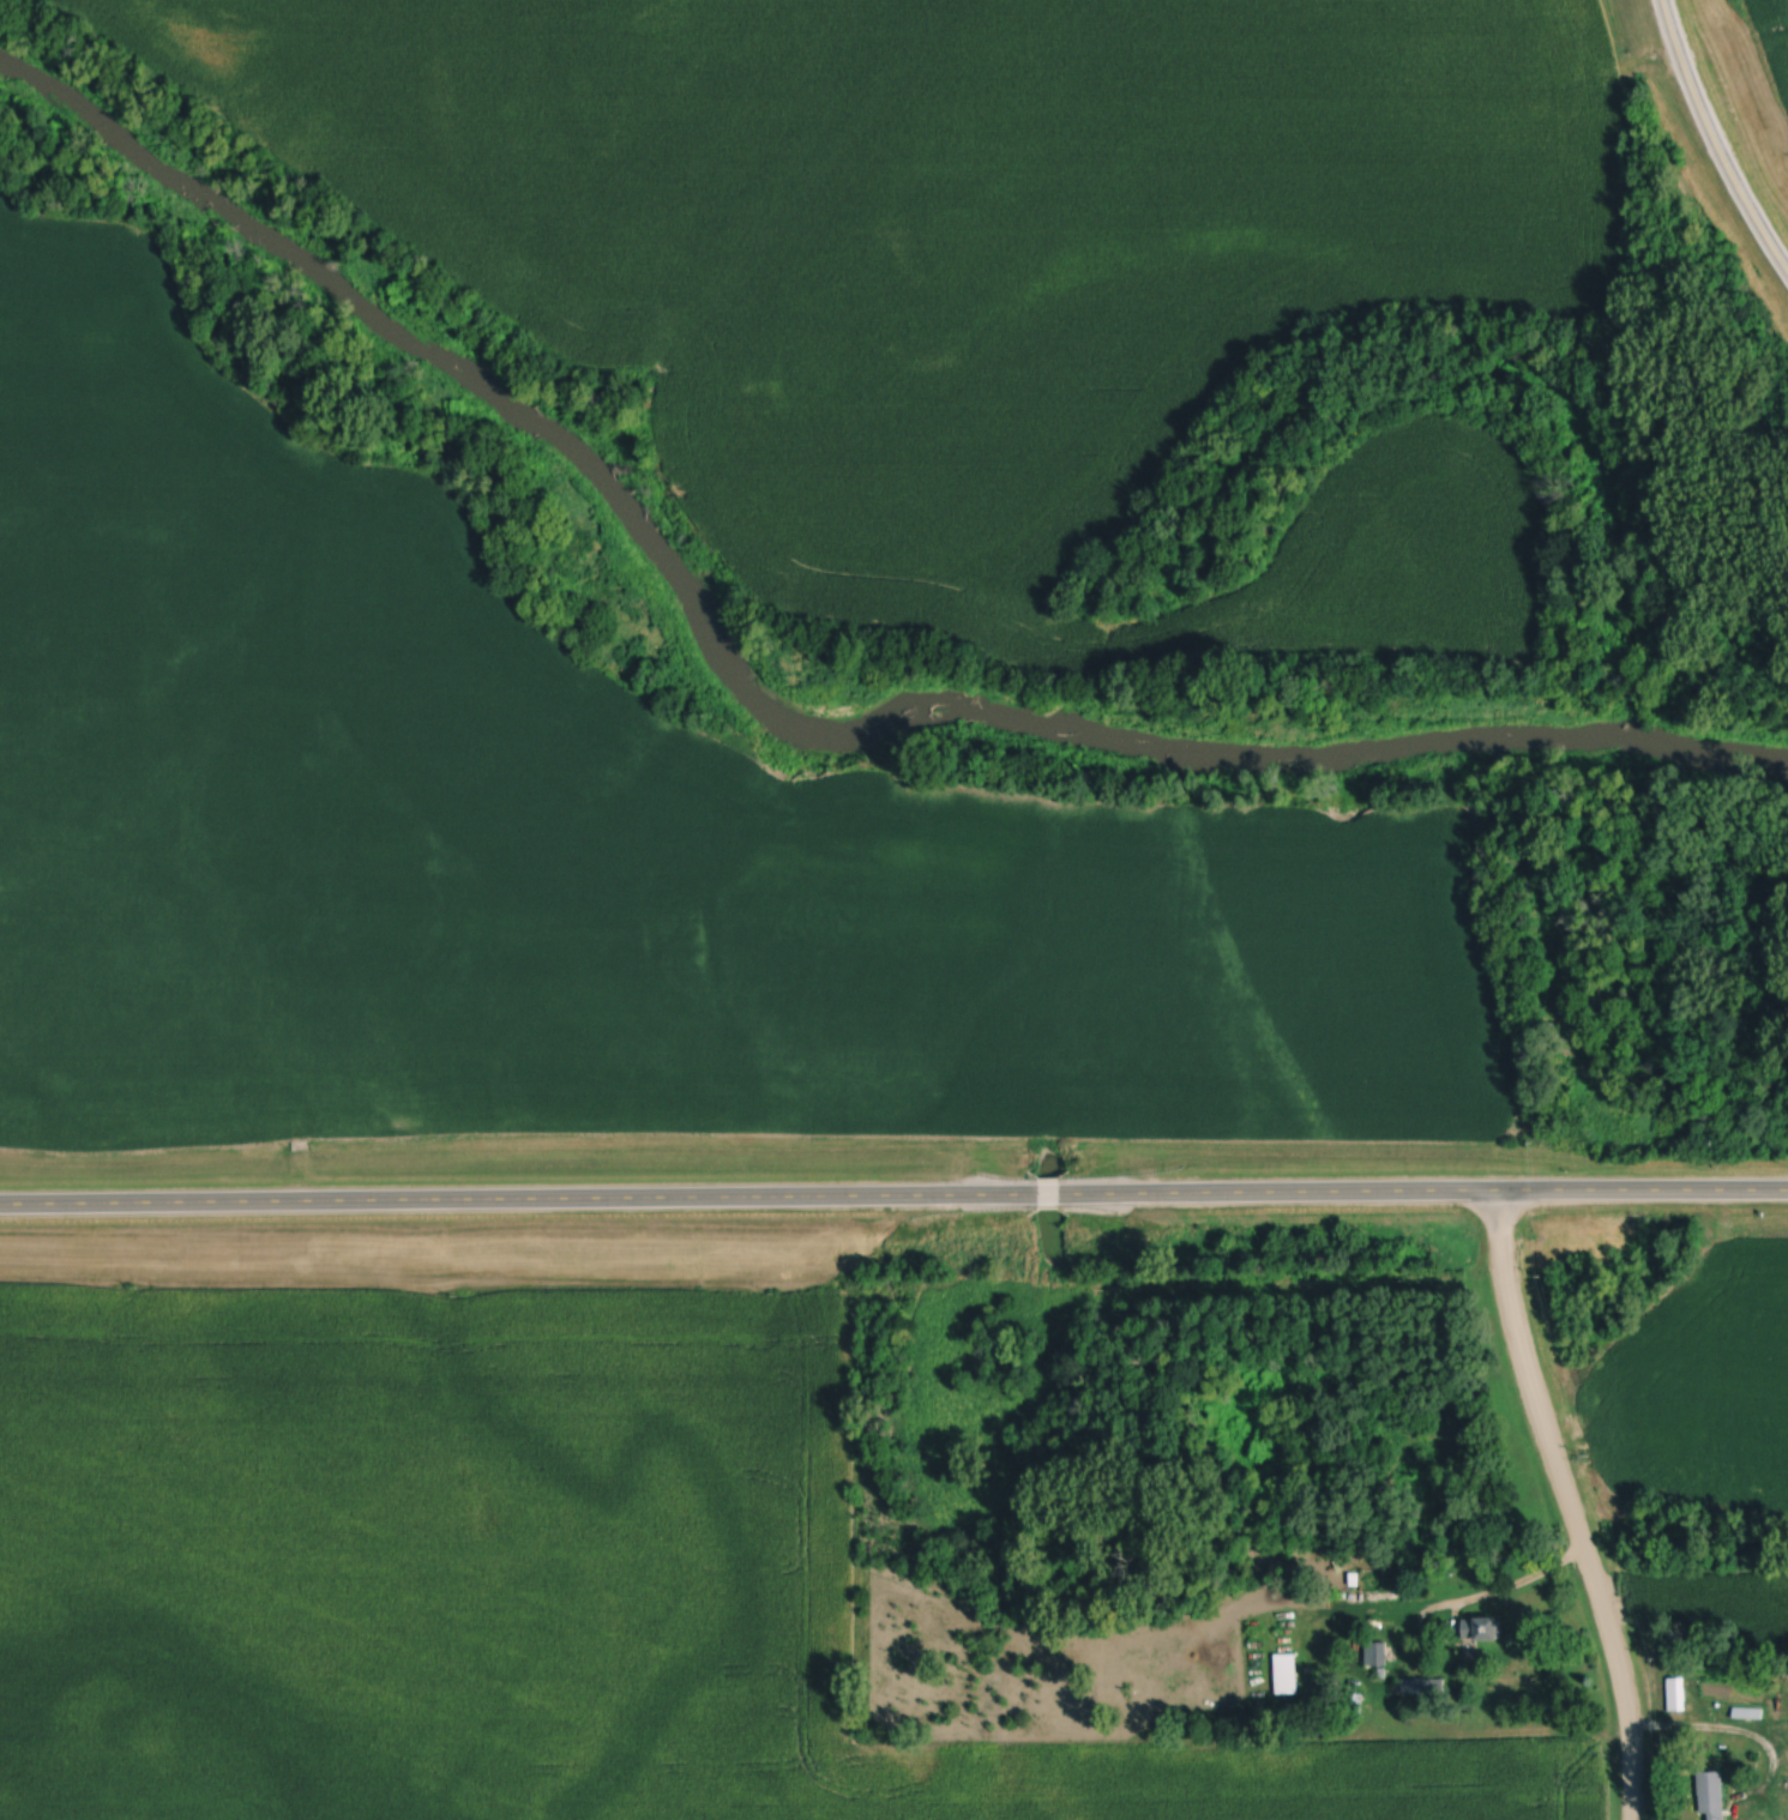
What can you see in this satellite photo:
road: (1711, 143)
river: (772, 695)
road: (893, 1198)
road: (1564, 1505)
building: (1366, 1579)
road: (1521, 1580)
road: (1425, 1622)
building: (1481, 1632)
building: (1425, 1689)
building: (1676, 1697)
building: (1355, 1706)
road: (1733, 1734)
building: (1710, 1796)

